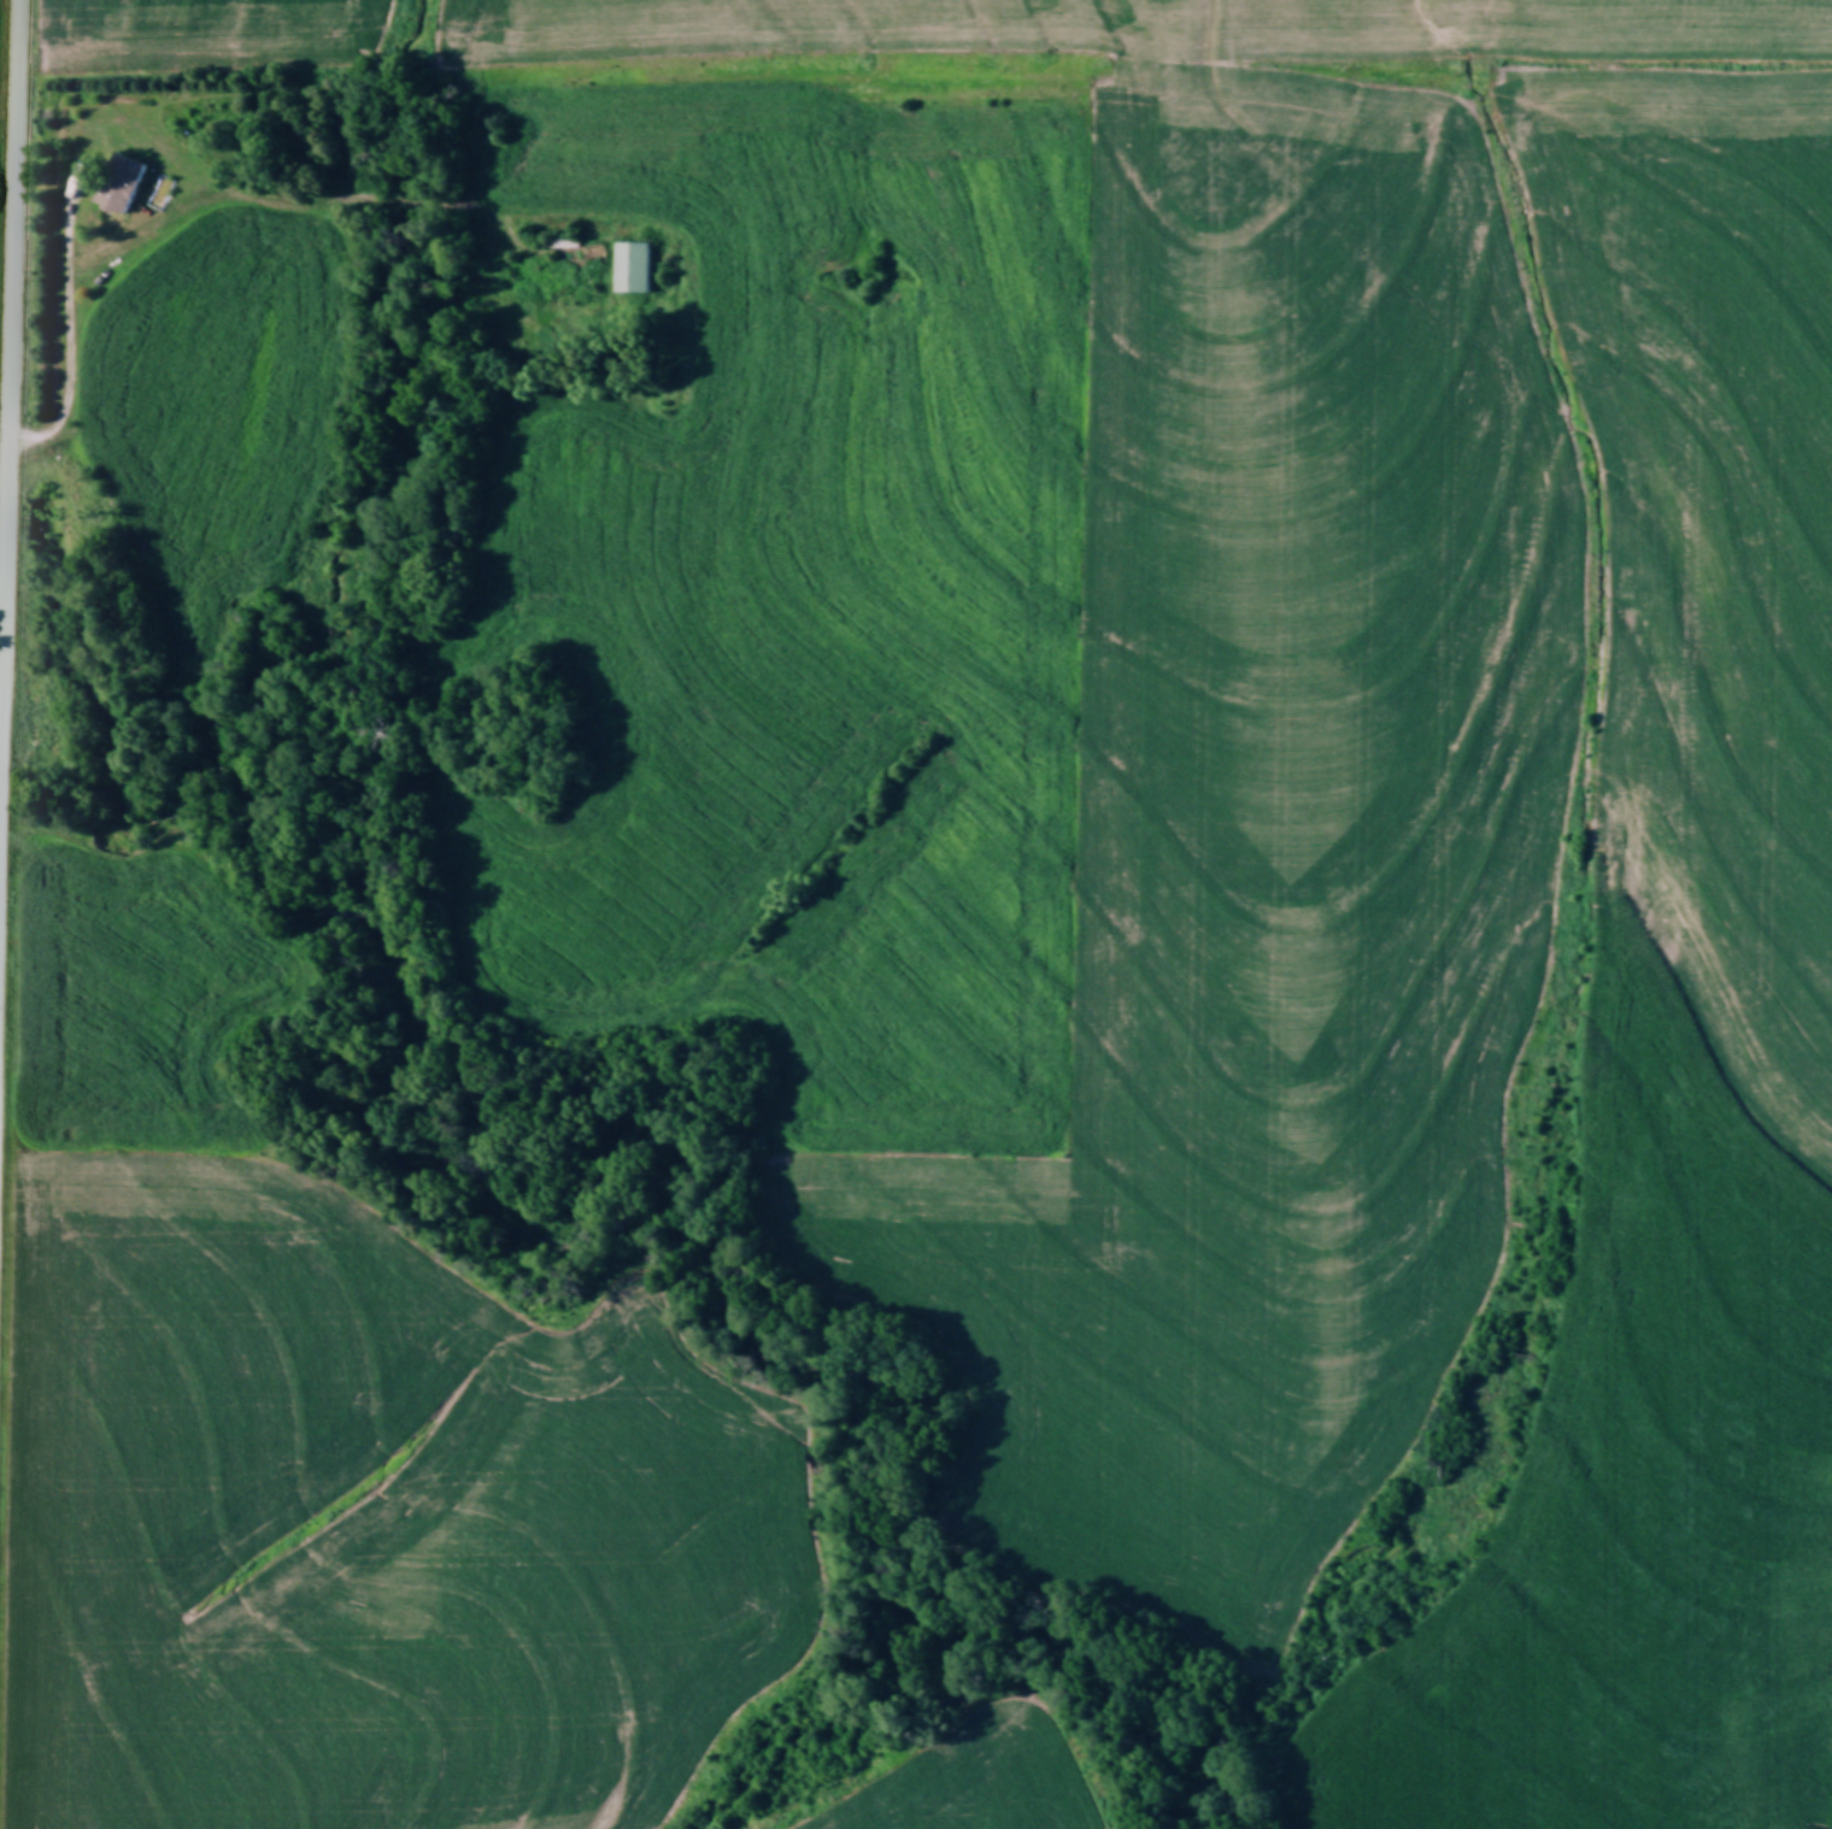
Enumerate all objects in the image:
building: (124, 182)
building: (564, 242)
building: (634, 267)
road: (72, 322)
road: (11, 459)

